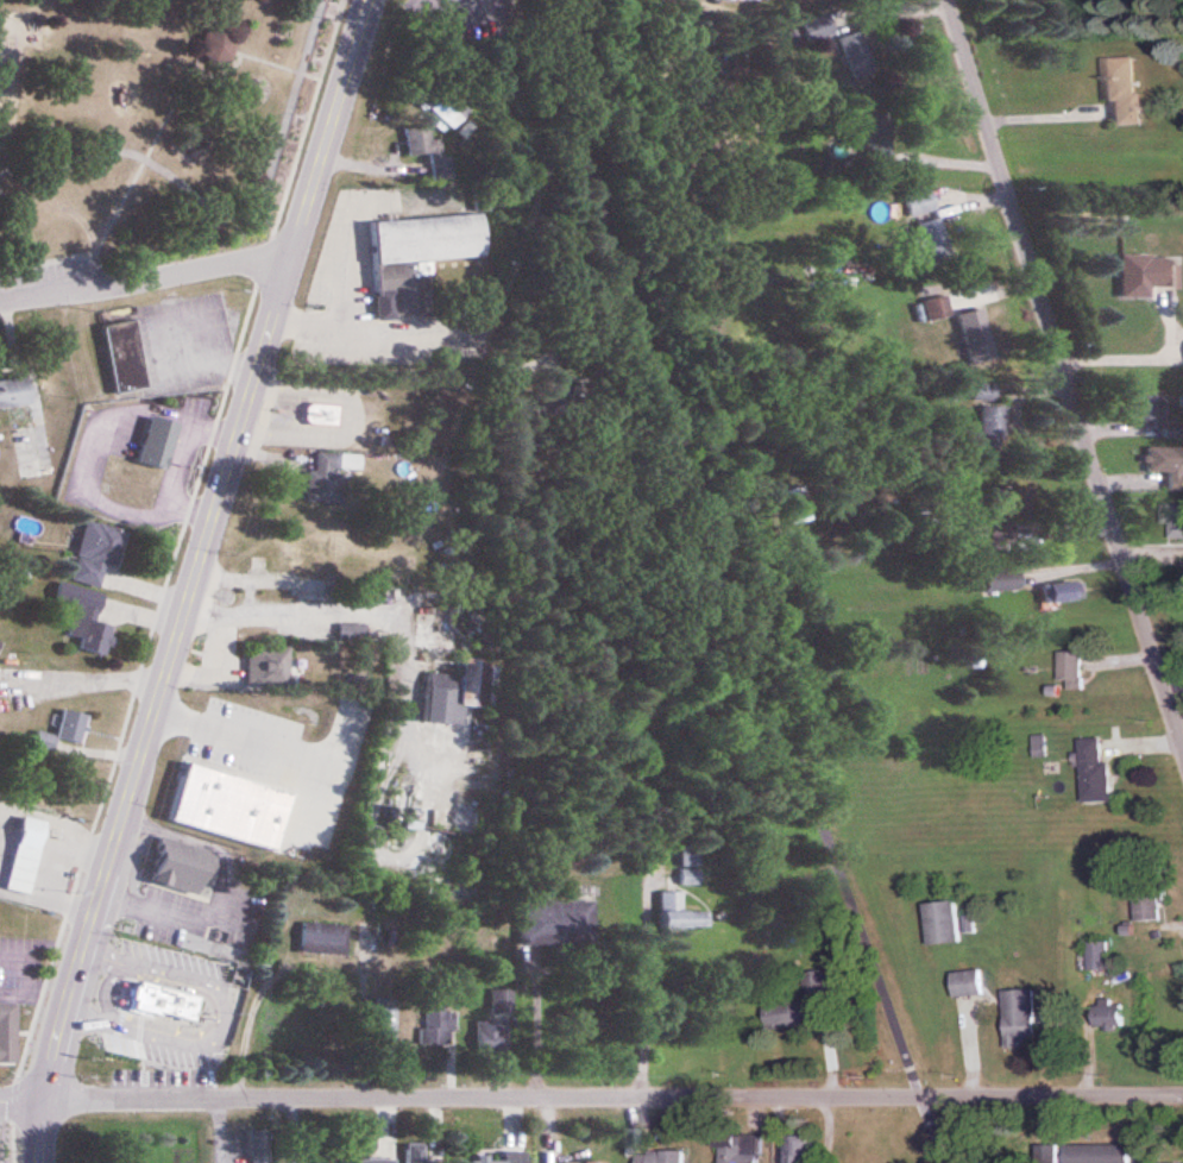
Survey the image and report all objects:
building: (778, 0)
building: (818, 29)
building: (219, 46)
building: (856, 52)
building: (1125, 89)
building: (446, 103)
building: (875, 136)
park: (150, 139)
building: (426, 147)
building: (921, 202)
building: (935, 241)
building: (421, 256)
building: (1147, 275)
road: (143, 276)
building: (938, 309)
road: (369, 328)
building: (979, 338)
road: (1138, 359)
building: (128, 370)
road: (1064, 377)
building: (15, 394)
building: (1149, 408)
building: (322, 415)
building: (994, 429)
building: (157, 442)
building: (1166, 465)
building: (329, 478)
building: (797, 505)
building: (1172, 524)
building: (315, 552)
building: (97, 553)
road: (194, 579)
building: (1003, 581)
road: (731, 585)
building: (1063, 593)
building: (86, 618)
building: (352, 635)
building: (269, 666)
building: (1075, 671)
building: (462, 692)
building: (67, 730)
road: (235, 731)
building: (238, 772)
building: (1096, 773)
building: (225, 809)
building: (26, 855)
building: (182, 867)
building: (691, 878)
building: (1151, 907)
building: (682, 914)
building: (556, 924)
building: (944, 924)
building: (369, 932)
building: (323, 939)
building: (1099, 956)
building: (1171, 983)
building: (969, 985)
building: (169, 1000)
building: (795, 1010)
road: (220, 1017)
building: (1112, 1018)
building: (1024, 1019)
building: (385, 1021)
building: (439, 1024)
building: (497, 1027)
building: (8, 1032)
road: (613, 1098)
road: (23, 1104)
road: (222, 1131)
building: (259, 1146)
building: (742, 1148)
building: (803, 1149)
building: (417, 1153)
building: (1051, 1153)
building: (1102, 1155)
building: (665, 1157)
building: (332, 1158)
building: (508, 1158)
building: (375, 1162)
building: (605, 1162)

